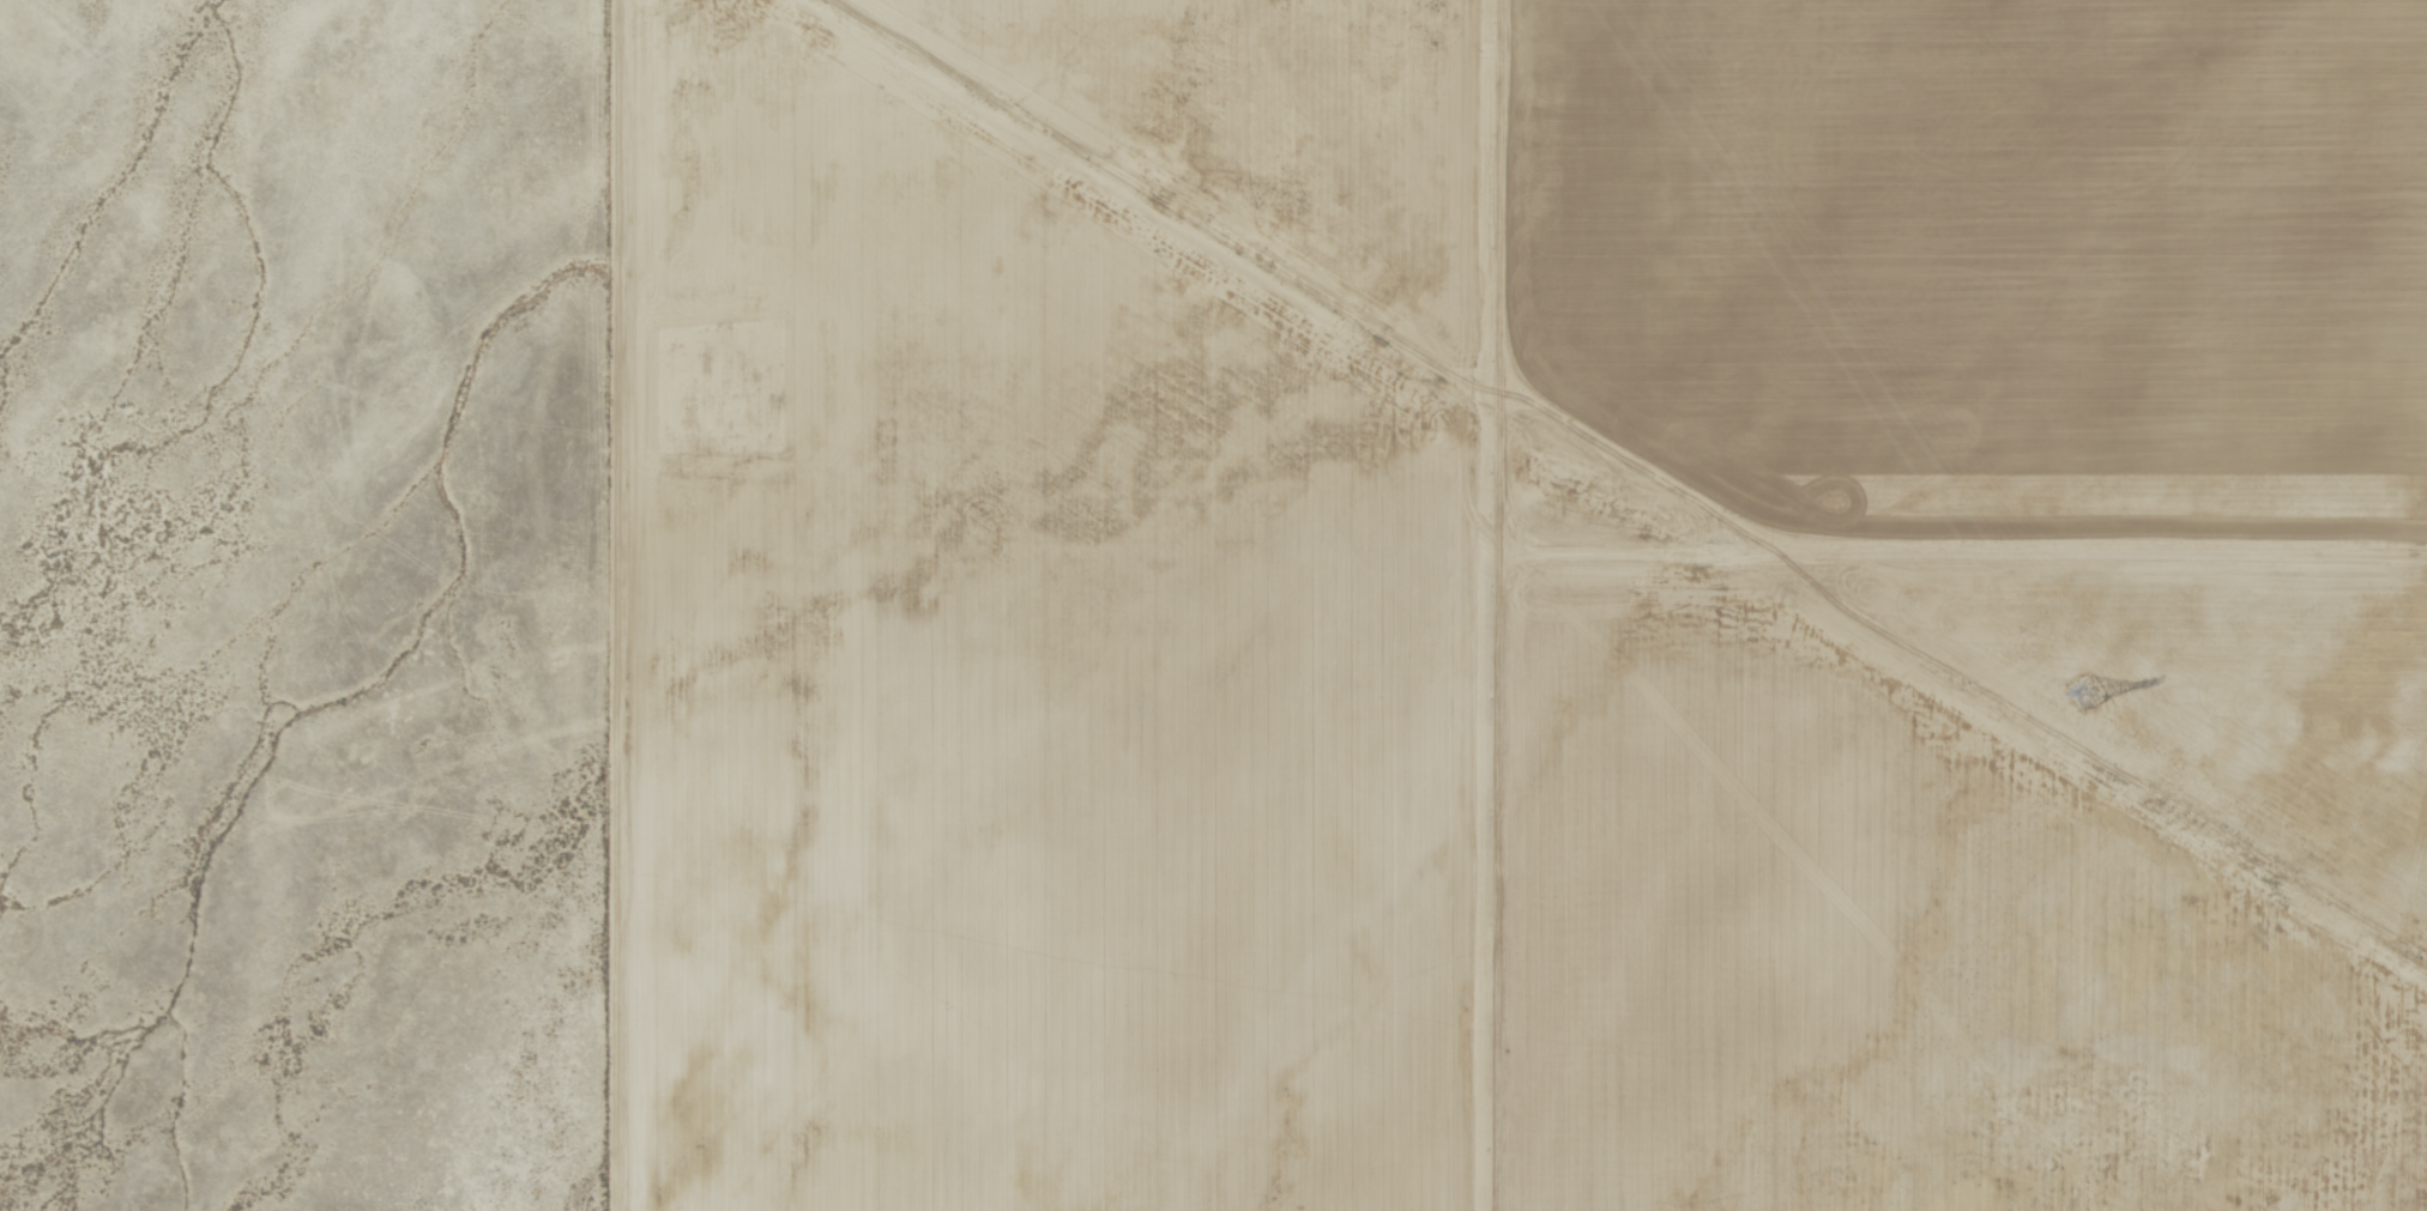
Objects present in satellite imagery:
power tower: (2084, 697)

